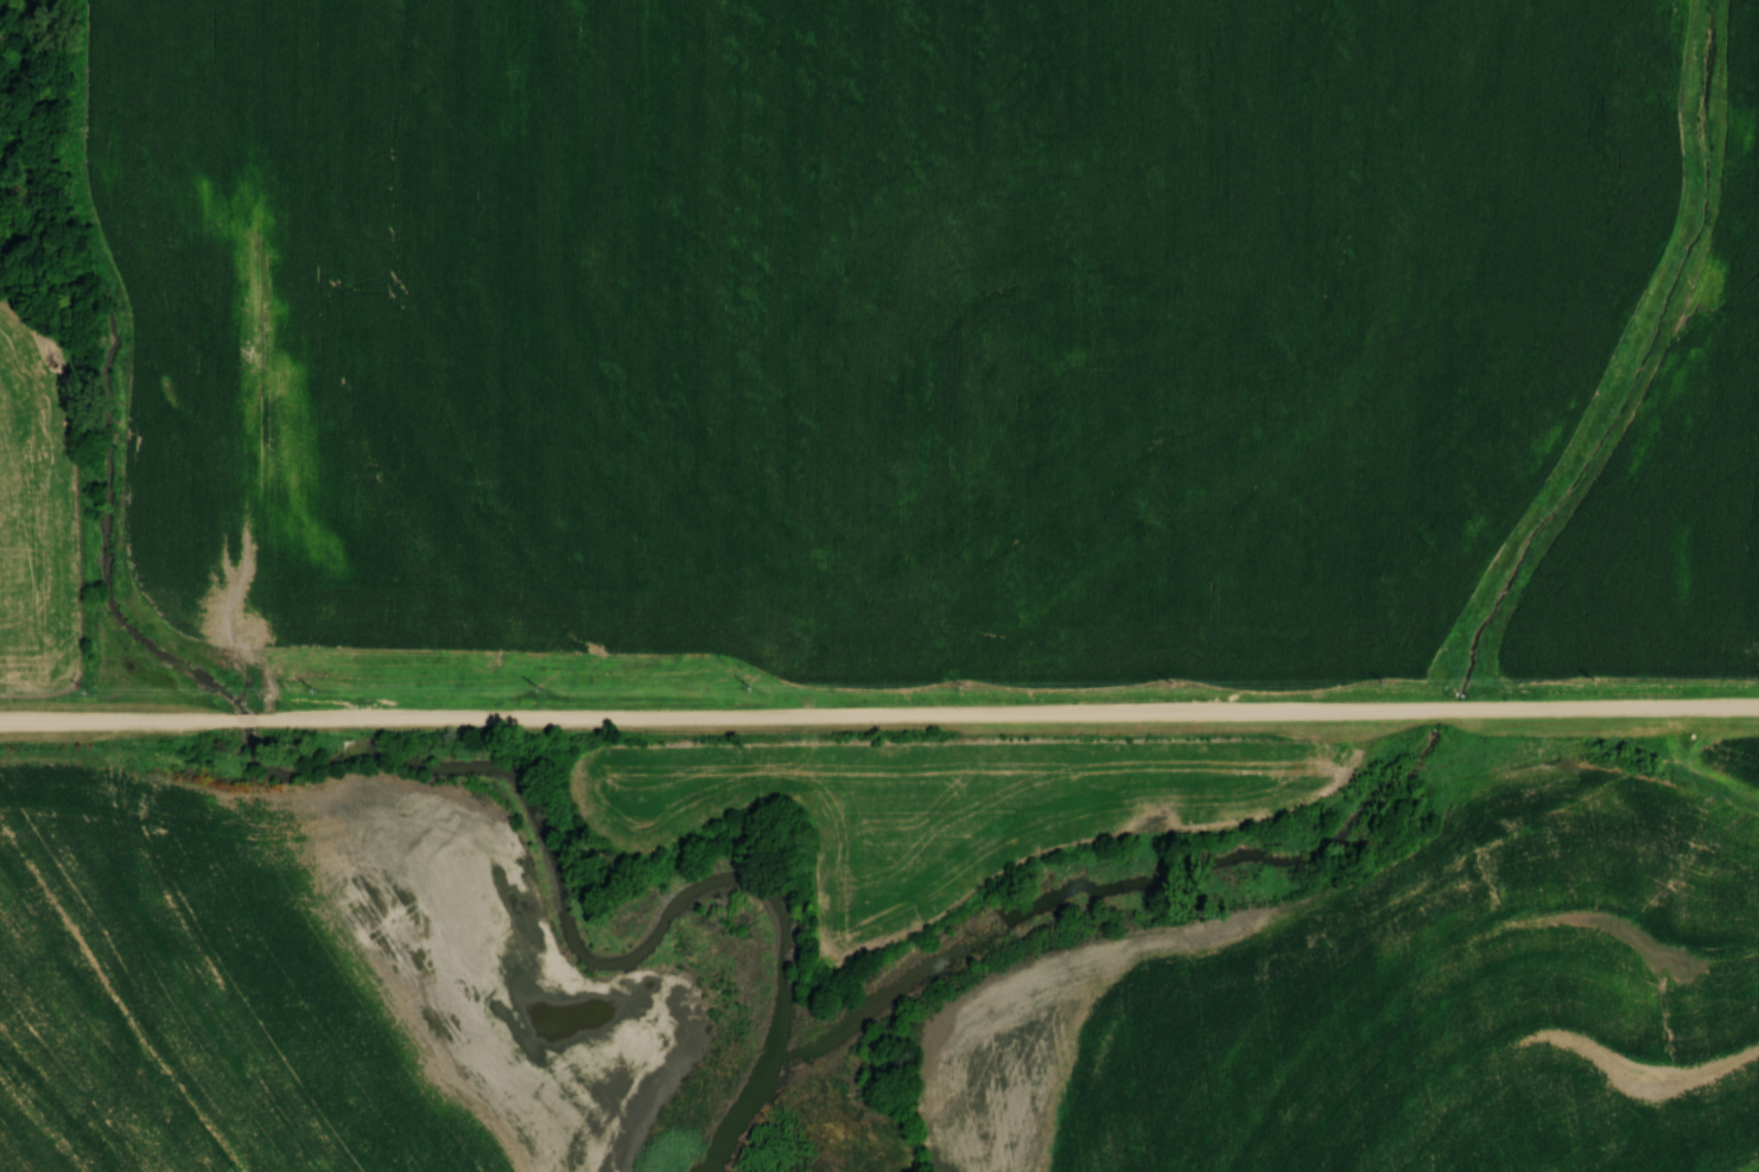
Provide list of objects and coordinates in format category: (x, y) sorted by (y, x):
road: (879, 716)

